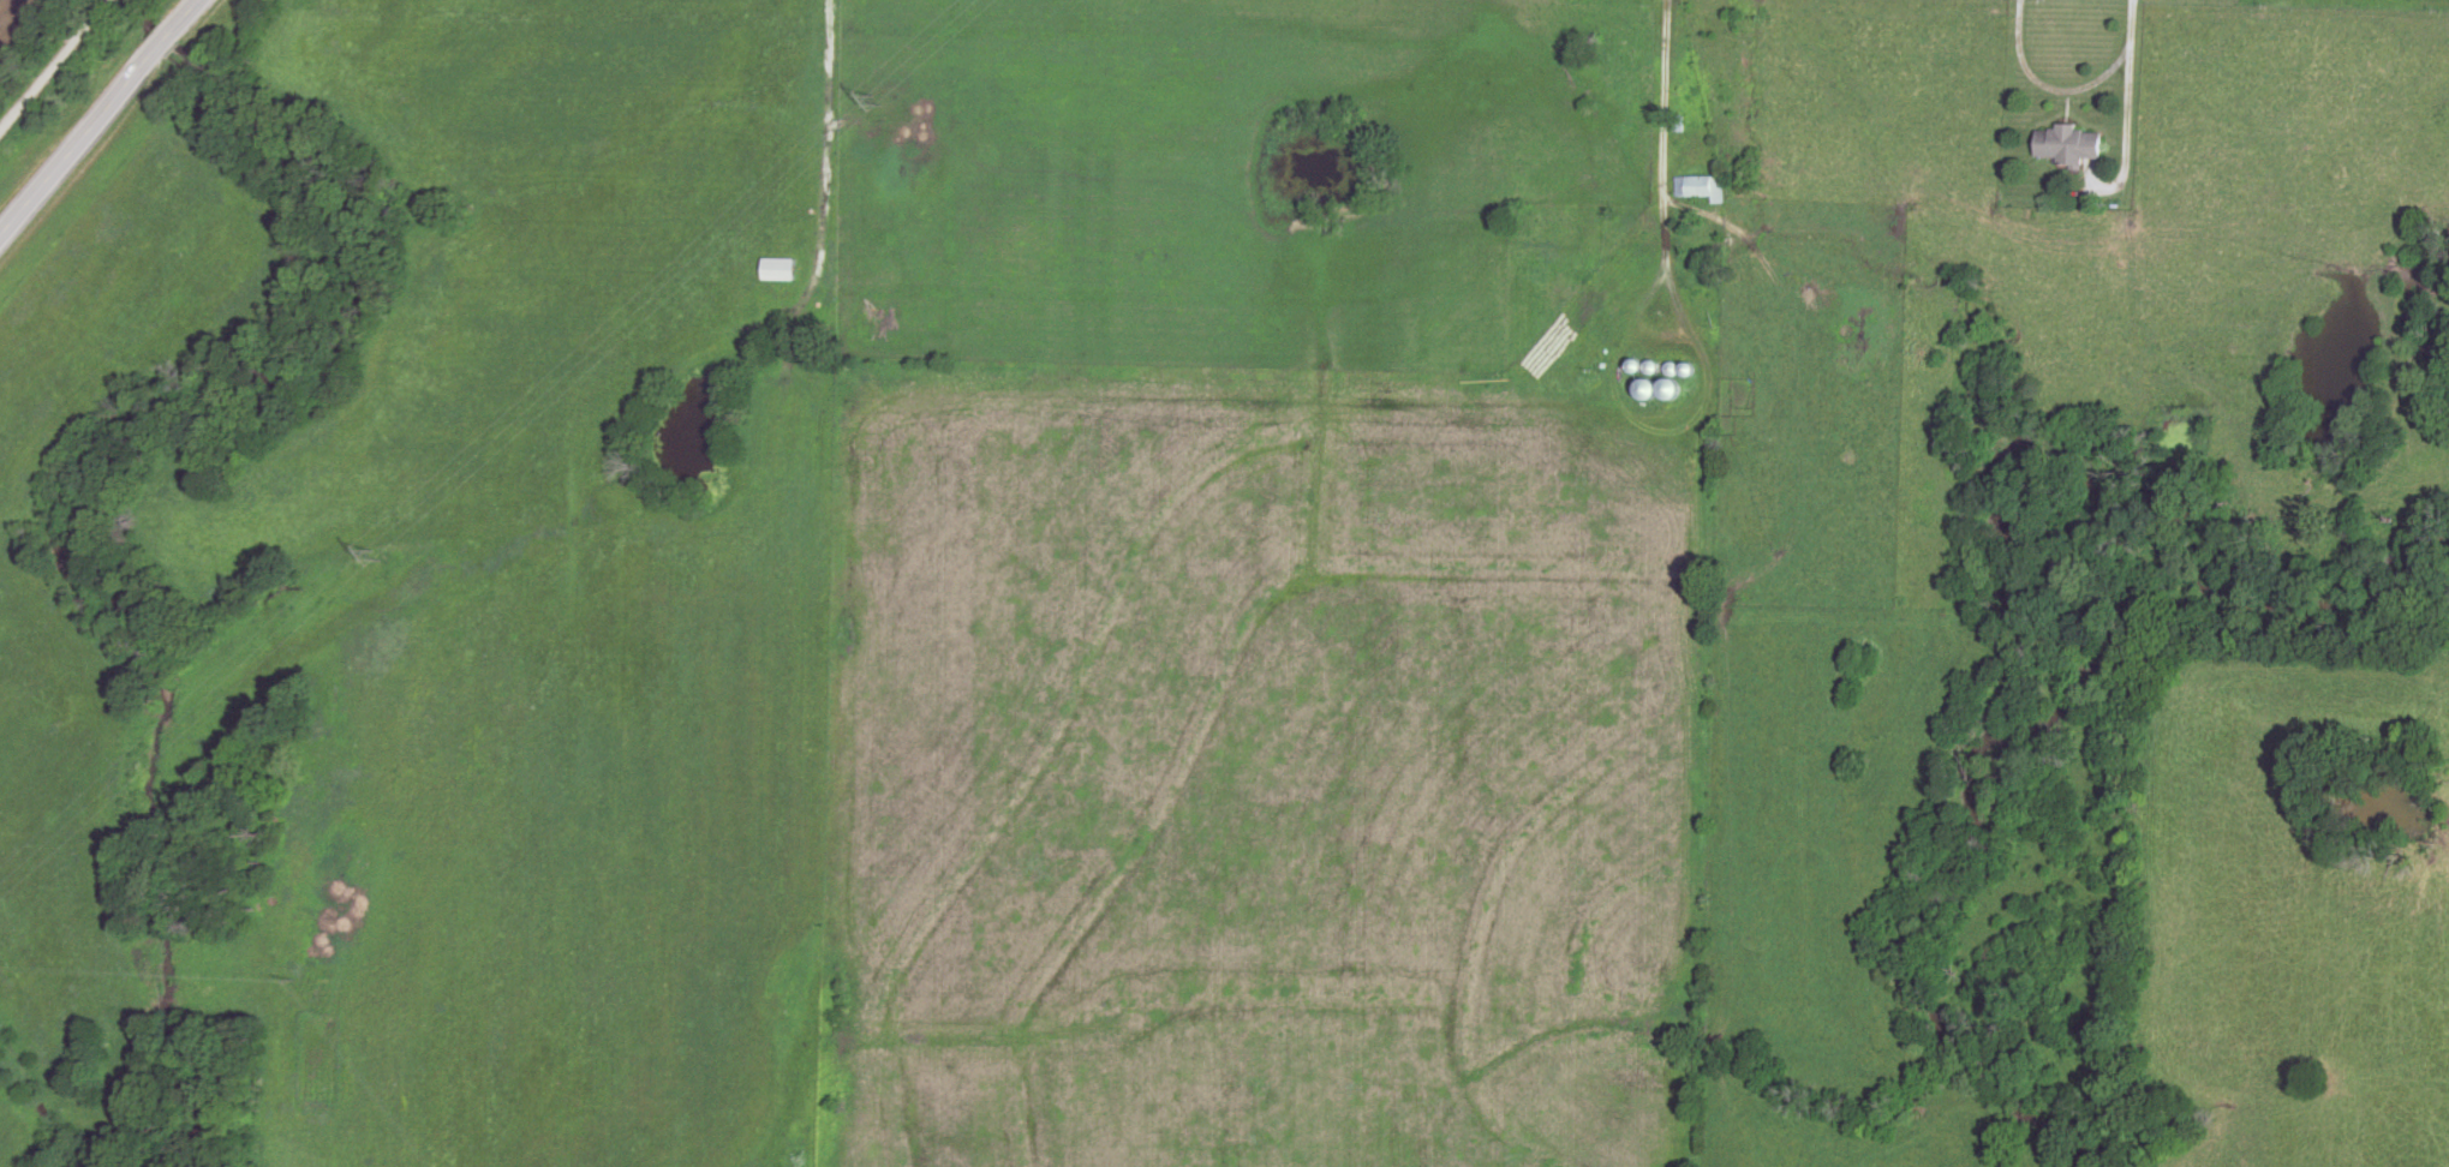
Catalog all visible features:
road: (56, 67)
power tower: (879, 102)
road: (100, 119)
building: (1679, 122)
building: (2066, 144)
building: (1701, 186)
building: (784, 267)
power tower: (371, 547)
crop: (1259, 772)

